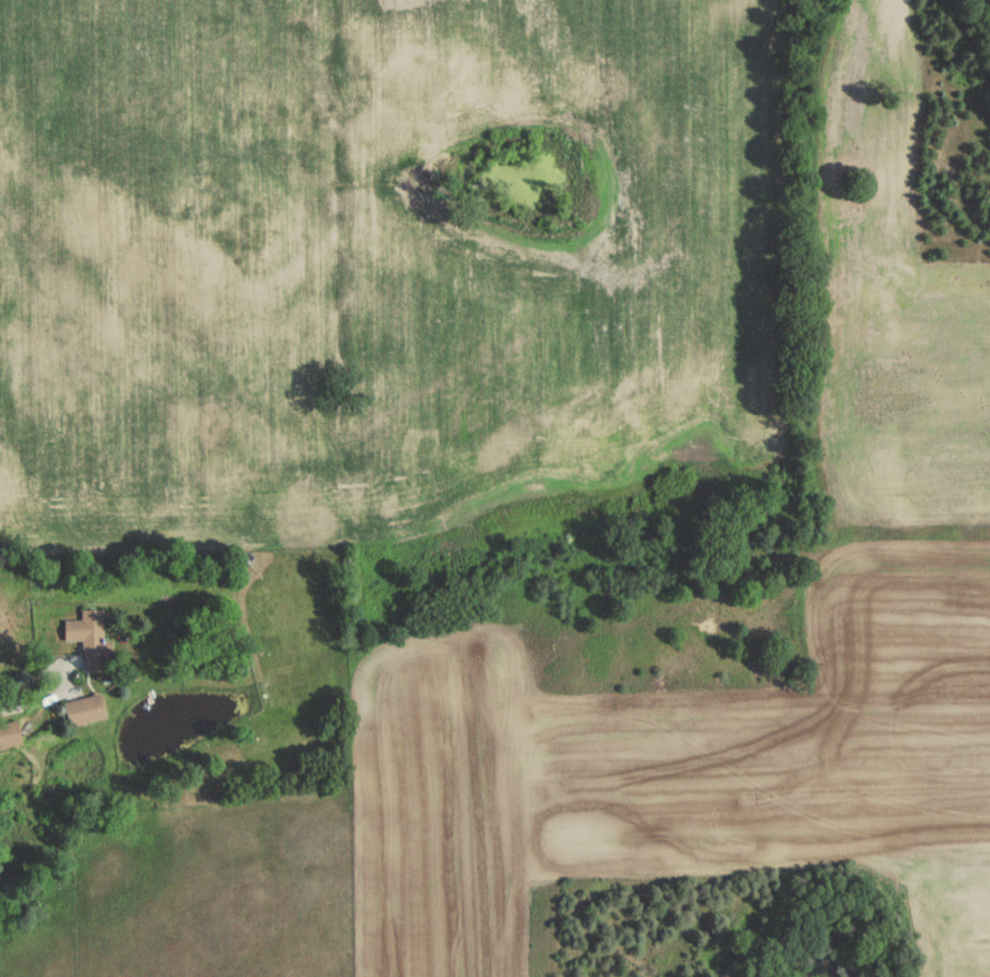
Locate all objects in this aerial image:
building: (91, 639)
road: (59, 673)
road: (4, 706)
building: (86, 711)
building: (10, 733)

